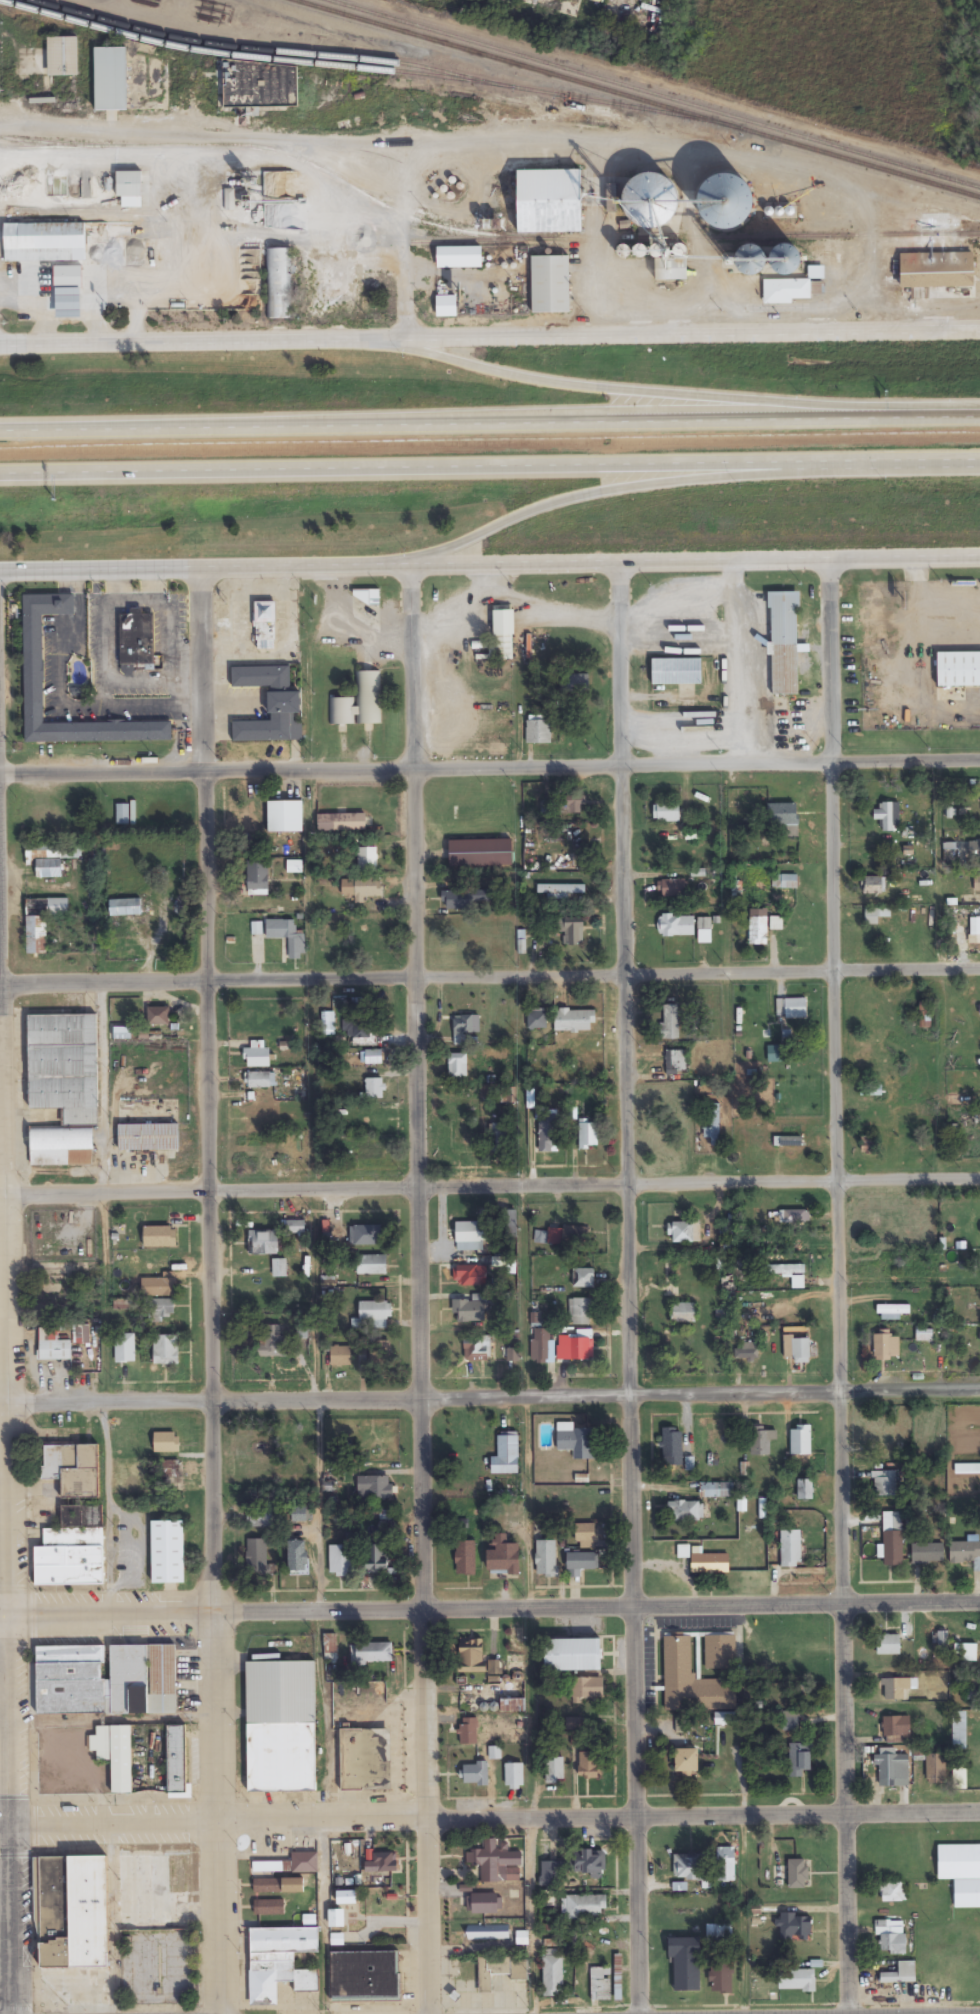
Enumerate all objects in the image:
building: (555, 6)
building: (633, 18)
building: (62, 56)
railway: (241, 56)
railway: (365, 61)
building: (110, 79)
railway: (652, 93)
railway: (634, 100)
road: (636, 146)
road: (200, 164)
building: (129, 189)
building: (550, 202)
building: (726, 203)
building: (655, 204)
building: (135, 230)
railway: (506, 241)
building: (44, 243)
road: (405, 245)
building: (130, 252)
building: (459, 258)
building: (754, 262)
building: (671, 269)
building: (62, 277)
building: (278, 284)
building: (550, 285)
building: (786, 291)
building: (68, 303)
building: (446, 307)
road: (696, 333)
road: (205, 337)
road: (674, 397)
road: (963, 418)
road: (472, 422)
road: (913, 460)
road: (423, 468)
road: (620, 489)
road: (693, 561)
road: (203, 569)
building: (871, 598)
building: (265, 626)
building: (502, 637)
building: (134, 644)
building: (783, 644)
building: (33, 668)
building: (958, 670)
building: (676, 672)
building: (574, 684)
building: (359, 703)
building: (270, 704)
building: (538, 733)
road: (489, 764)
building: (572, 805)
building: (666, 812)
building: (122, 815)
building: (782, 815)
building: (888, 816)
building: (285, 817)
building: (342, 823)
building: (974, 849)
building: (480, 854)
building: (367, 860)
building: (51, 861)
building: (294, 867)
building: (784, 881)
building: (977, 883)
building: (873, 885)
building: (257, 886)
building: (367, 889)
building: (673, 889)
building: (562, 891)
building: (461, 899)
building: (125, 908)
building: (40, 922)
building: (883, 923)
building: (676, 926)
building: (704, 931)
building: (758, 931)
building: (573, 932)
building: (286, 937)
road: (490, 978)
building: (791, 1009)
building: (158, 1015)
building: (537, 1019)
building: (574, 1020)
building: (670, 1022)
building: (462, 1028)
building: (356, 1029)
building: (373, 1057)
building: (258, 1058)
building: (675, 1062)
building: (457, 1065)
building: (260, 1080)
building: (63, 1088)
building: (375, 1088)
building: (870, 1090)
building: (267, 1118)
building: (711, 1124)
building: (547, 1133)
building: (587, 1135)
building: (462, 1136)
building: (148, 1137)
building: (787, 1141)
building: (868, 1144)
building: (260, 1148)
building: (370, 1151)
road: (489, 1185)
building: (792, 1217)
building: (895, 1220)
building: (508, 1222)
building: (686, 1232)
building: (575, 1235)
building: (160, 1236)
building: (365, 1236)
building: (470, 1236)
building: (799, 1241)
building: (264, 1243)
building: (162, 1265)
building: (371, 1265)
building: (279, 1268)
building: (886, 1268)
building: (789, 1274)
building: (117, 1276)
building: (471, 1276)
building: (581, 1278)
building: (156, 1287)
road: (829, 1287)
road: (623, 1288)
road: (416, 1289)
road: (212, 1292)
building: (470, 1309)
building: (579, 1311)
building: (892, 1311)
building: (161, 1312)
building: (683, 1312)
building: (375, 1313)
building: (54, 1338)
building: (271, 1341)
building: (541, 1345)
building: (577, 1346)
building: (886, 1346)
building: (125, 1347)
building: (476, 1348)
building: (797, 1349)
building: (165, 1350)
building: (746, 1351)
building: (340, 1356)
road: (489, 1394)
building: (883, 1431)
building: (761, 1440)
building: (800, 1440)
building: (577, 1441)
building: (713, 1442)
building: (166, 1443)
building: (672, 1446)
building: (506, 1455)
building: (72, 1468)
building: (967, 1468)
building: (883, 1483)
building: (374, 1489)
building: (805, 1489)
building: (708, 1490)
building: (685, 1511)
building: (299, 1514)
building: (261, 1517)
building: (587, 1535)
building: (892, 1538)
building: (790, 1548)
building: (72, 1549)
building: (966, 1550)
building: (167, 1552)
building: (927, 1553)
building: (504, 1557)
building: (256, 1558)
building: (297, 1558)
building: (376, 1558)
building: (465, 1558)
building: (546, 1558)
building: (341, 1561)
building: (582, 1561)
building: (710, 1563)
road: (4, 1604)
road: (490, 1609)
building: (942, 1639)
building: (888, 1645)
building: (720, 1651)
building: (965, 1652)
building: (370, 1654)
building: (471, 1655)
building: (573, 1655)
building: (493, 1667)
building: (68, 1678)
building: (141, 1678)
building: (692, 1680)
building: (588, 1688)
building: (898, 1688)
building: (973, 1694)
building: (279, 1725)
building: (575, 1726)
building: (896, 1726)
building: (468, 1731)
building: (959, 1731)
building: (115, 1754)
building: (800, 1758)
building: (365, 1759)
building: (176, 1760)
building: (686, 1760)
building: (588, 1765)
building: (891, 1765)
building: (936, 1769)
building: (554, 1770)
building: (475, 1774)
building: (514, 1775)
building: (959, 1776)
road: (489, 1817)
building: (490, 1861)
building: (589, 1861)
building: (956, 1861)
building: (382, 1863)
building: (282, 1864)
building: (726, 1864)
building: (690, 1866)
building: (797, 1873)
building: (548, 1874)
building: (277, 1885)
building: (149, 1890)
building: (893, 1892)
building: (965, 1892)
building: (547, 1898)
building: (486, 1903)
building: (583, 1906)
building: (269, 1907)
building: (339, 1917)
building: (310, 1920)
building: (795, 1926)
building: (73, 1931)
building: (487, 1932)
building: (889, 1935)
building: (521, 1938)
building: (718, 1958)
building: (680, 1963)
building: (149, 1966)
building: (283, 1967)
building: (895, 1972)
building: (491, 1973)
building: (552, 1974)
building: (365, 1976)
building: (617, 1976)
building: (794, 1980)
building: (599, 1983)

